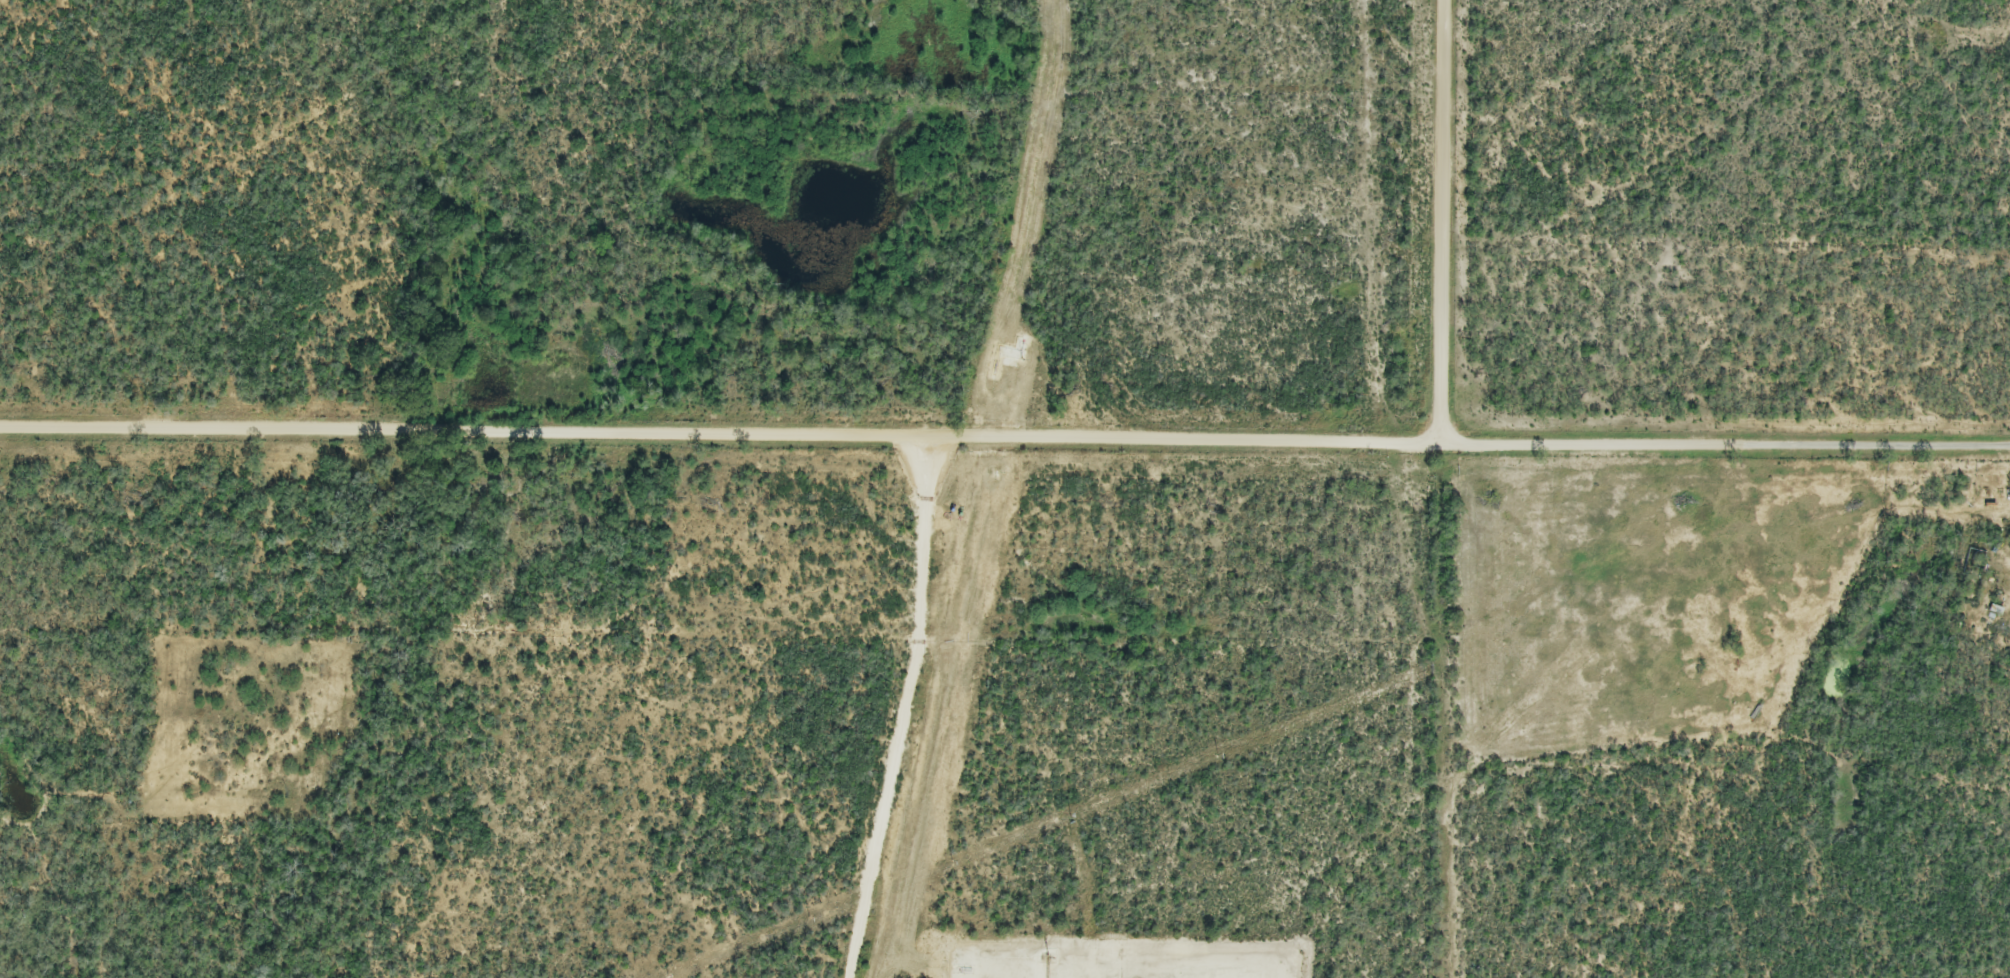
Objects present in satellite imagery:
road: (1439, 228)
road: (1005, 442)
road: (903, 710)

